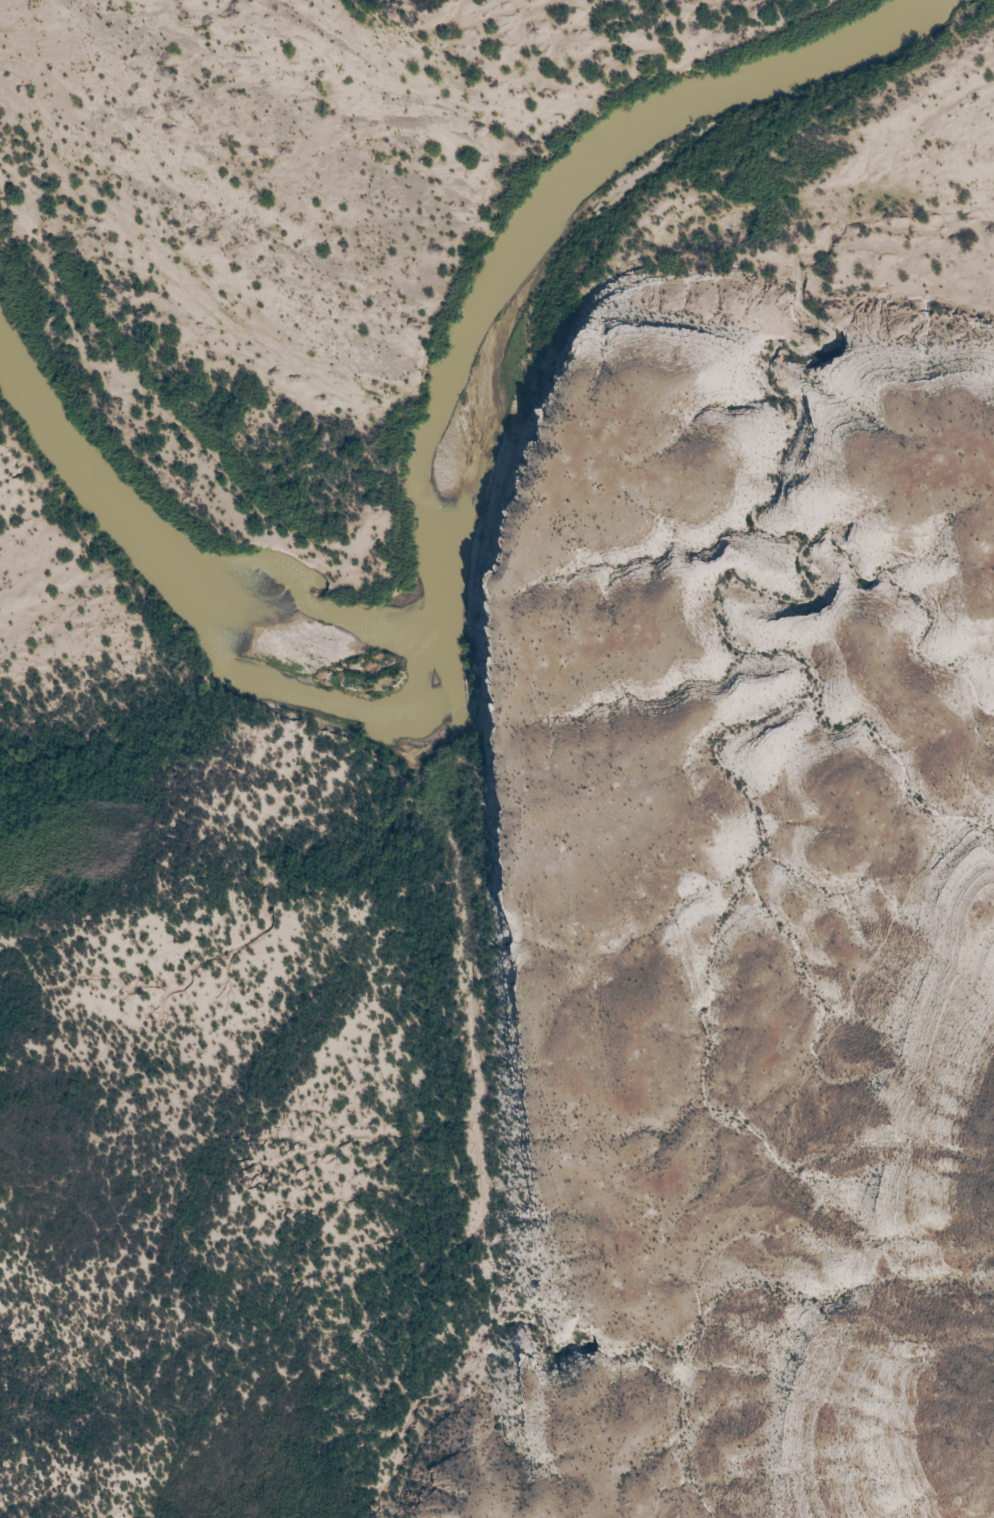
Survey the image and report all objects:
river: (454, 474)

